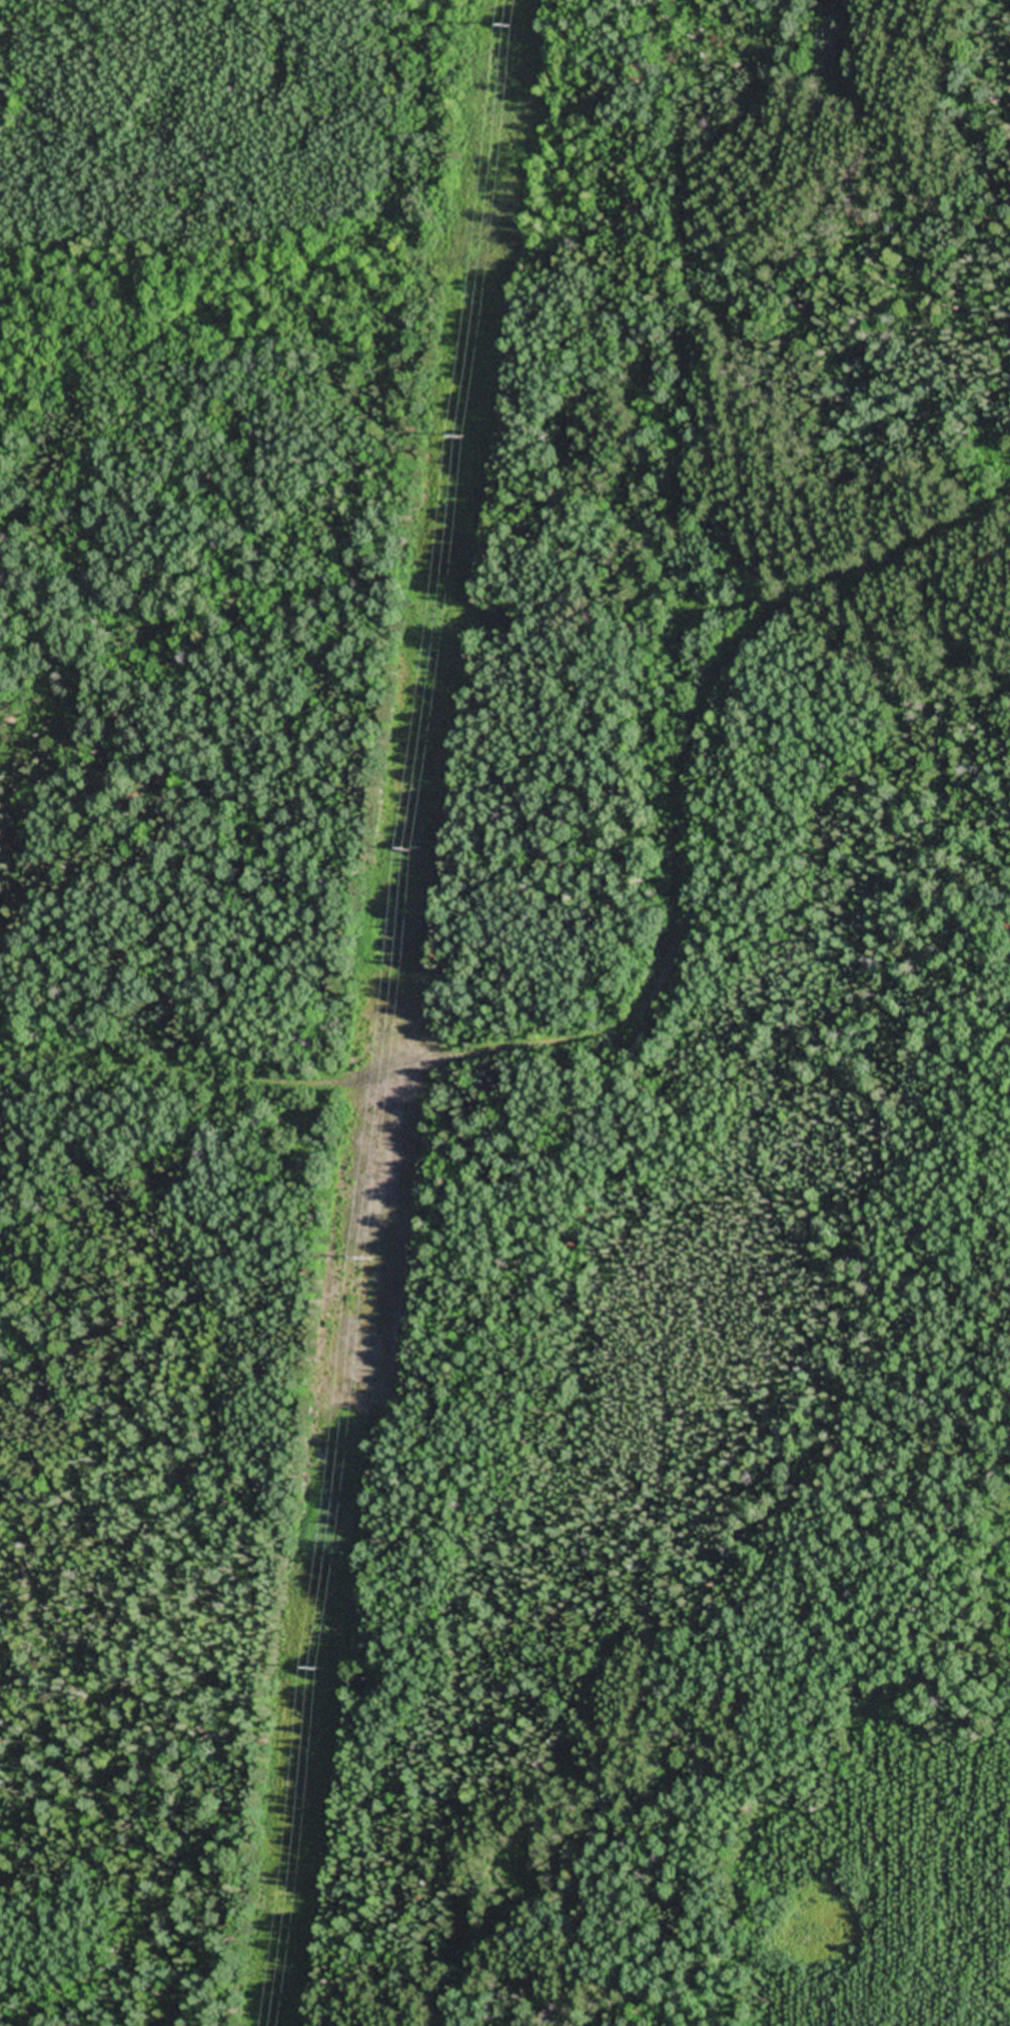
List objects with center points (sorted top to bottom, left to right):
power tower: (510, 25)
power tower: (462, 438)
power tower: (413, 851)
road: (634, 937)
power tower: (365, 1261)
power tower: (316, 1668)

